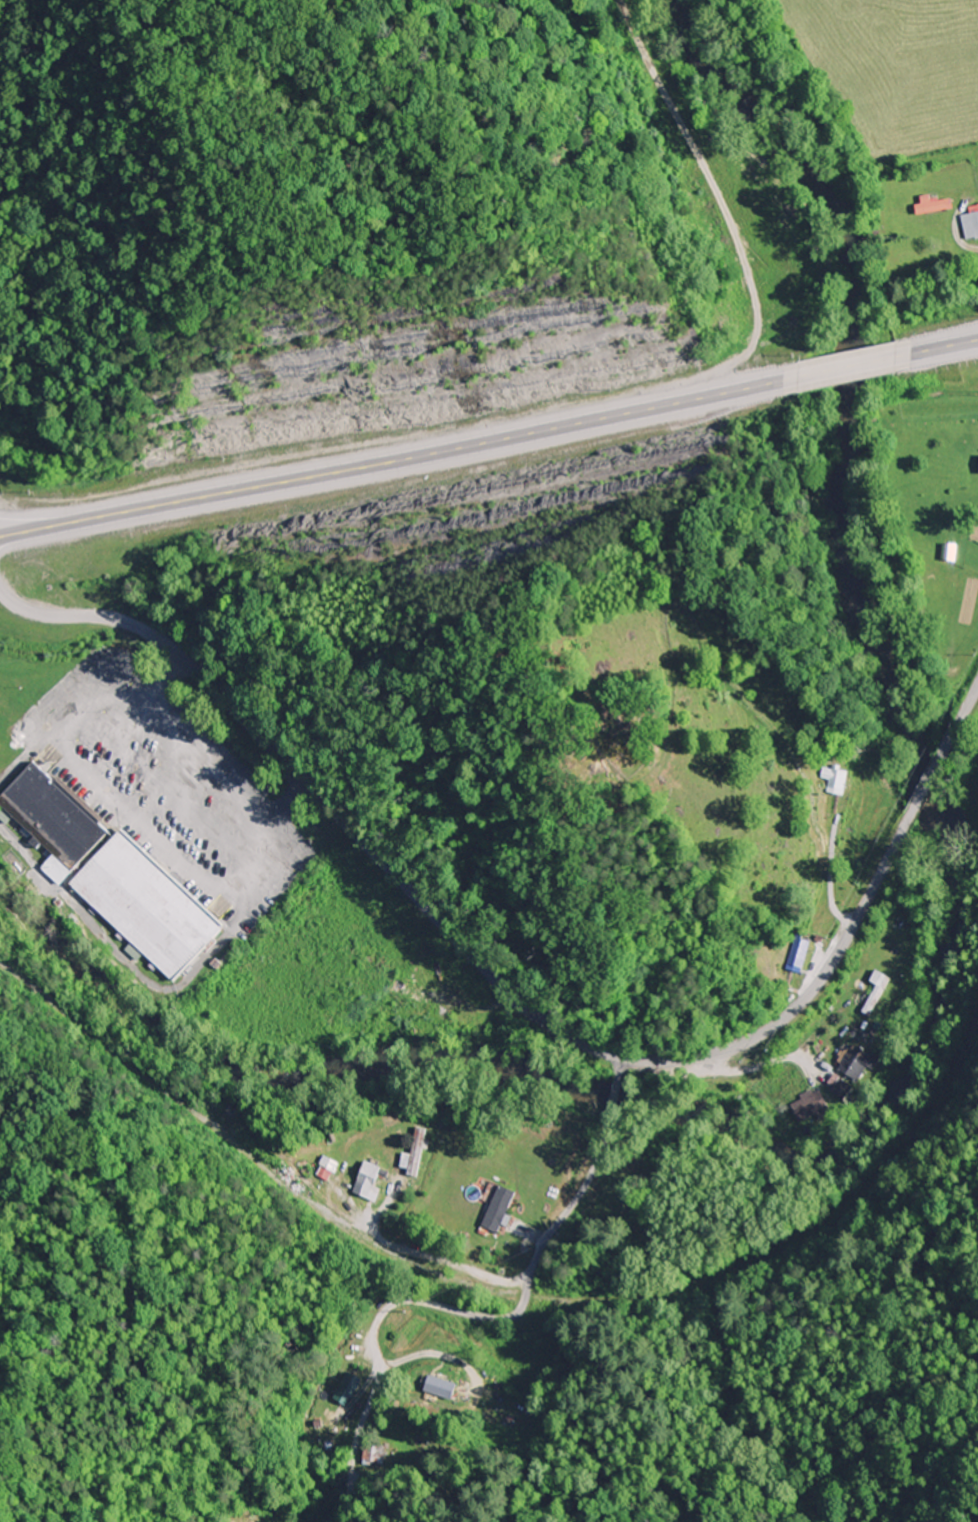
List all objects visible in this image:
building: (934, 203)
building: (970, 222)
road: (938, 348)
road: (847, 367)
road: (398, 458)
building: (948, 549)
road: (970, 711)
road: (939, 772)
building: (834, 777)
building: (112, 871)
road: (470, 951)
building: (797, 951)
building: (873, 990)
river: (922, 1000)
building: (853, 1059)
road: (620, 1073)
building: (836, 1086)
road: (613, 1101)
building: (806, 1104)
building: (417, 1149)
building: (367, 1177)
building: (499, 1207)
road: (528, 1278)
building: (345, 1386)
building: (441, 1387)

